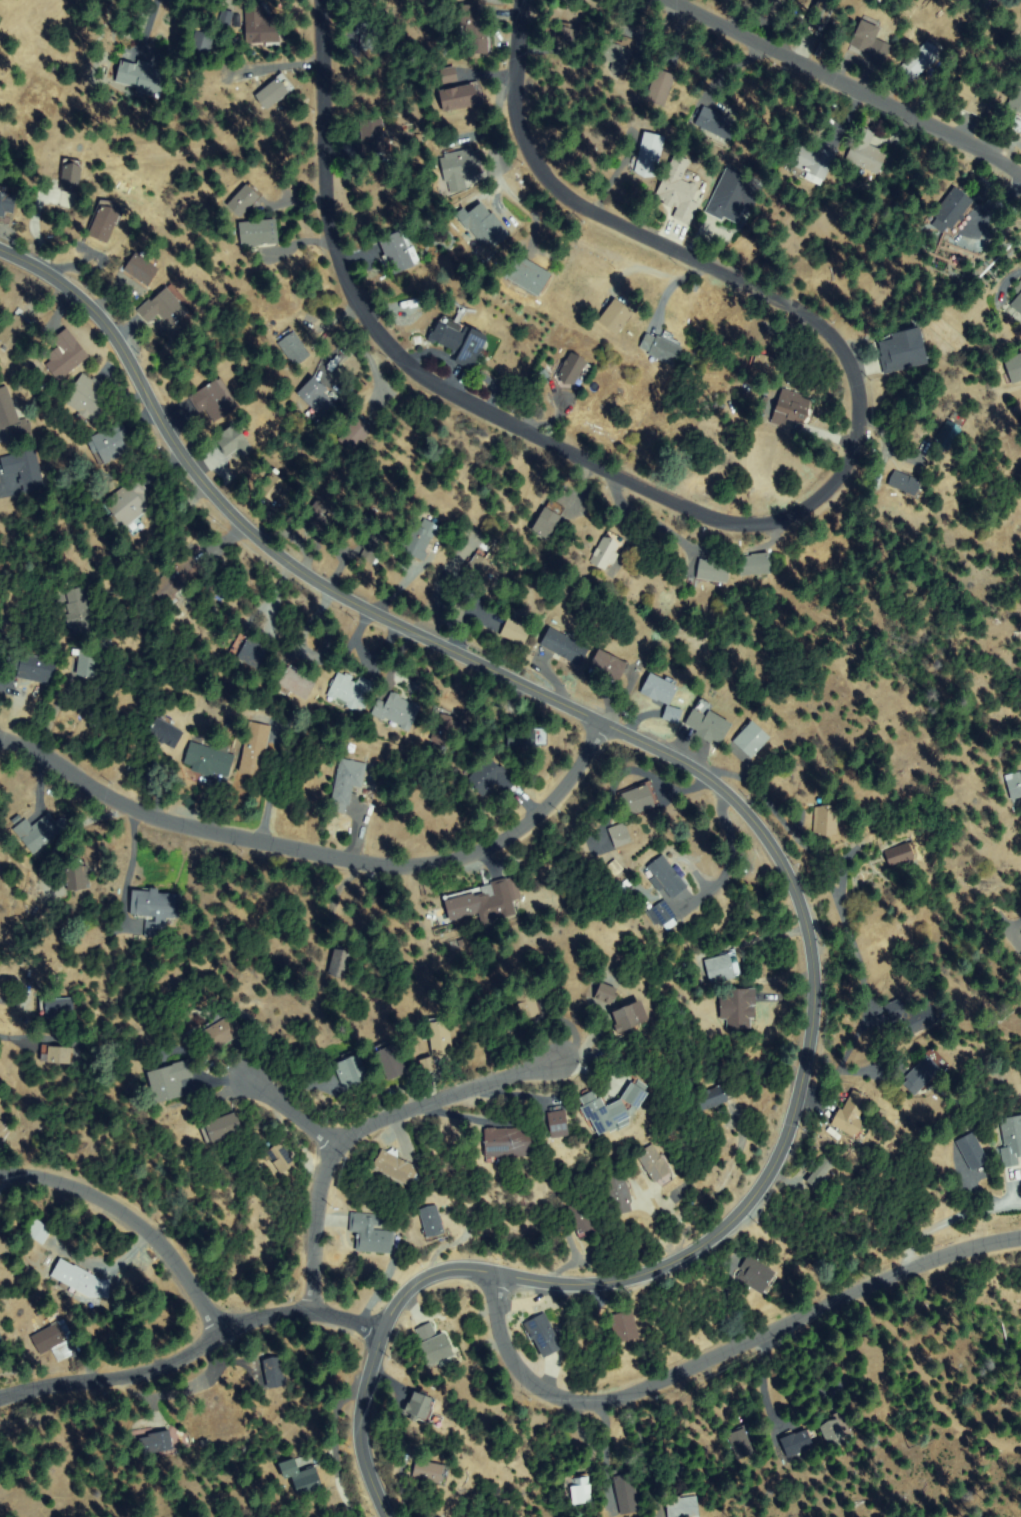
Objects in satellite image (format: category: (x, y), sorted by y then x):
building: (773, 7)
building: (819, 19)
building: (225, 21)
building: (260, 27)
building: (475, 30)
building: (372, 34)
building: (565, 36)
building: (870, 41)
building: (202, 44)
building: (616, 55)
building: (918, 63)
building: (448, 76)
building: (142, 78)
road: (841, 84)
building: (659, 87)
building: (276, 92)
building: (971, 97)
building: (459, 98)
building: (1016, 100)
building: (716, 122)
building: (373, 136)
building: (866, 152)
building: (650, 154)
building: (813, 160)
building: (460, 168)
building: (70, 180)
building: (679, 190)
building: (735, 197)
building: (245, 200)
building: (5, 201)
building: (953, 208)
building: (105, 221)
building: (484, 225)
building: (258, 234)
building: (398, 252)
building: (143, 269)
building: (530, 276)
building: (1018, 289)
building: (1018, 305)
building: (167, 306)
building: (616, 317)
building: (15, 332)
building: (459, 340)
building: (662, 347)
building: (295, 350)
building: (903, 350)
building: (65, 355)
building: (769, 364)
building: (1015, 367)
building: (573, 371)
building: (88, 399)
building: (214, 400)
building: (318, 400)
building: (790, 408)
building: (6, 410)
building: (24, 432)
building: (355, 435)
building: (948, 435)
building: (110, 443)
building: (232, 443)
building: (25, 469)
building: (908, 484)
building: (276, 489)
building: (128, 505)
building: (318, 519)
building: (549, 520)
building: (292, 523)
road: (753, 523)
building: (421, 538)
building: (374, 546)
building: (607, 550)
building: (754, 565)
building: (713, 572)
building: (479, 575)
building: (178, 579)
building: (79, 611)
building: (516, 632)
building: (105, 645)
building: (565, 648)
building: (249, 651)
building: (88, 664)
building: (33, 667)
building: (608, 667)
building: (297, 683)
building: (659, 689)
building: (351, 691)
building: (397, 711)
building: (672, 716)
building: (707, 726)
building: (442, 728)
building: (166, 733)
building: (521, 740)
building: (751, 740)
building: (255, 749)
building: (211, 760)
building: (490, 777)
building: (347, 783)
building: (1015, 786)
building: (639, 800)
building: (826, 821)
building: (42, 831)
building: (620, 835)
road: (769, 841)
road: (322, 854)
building: (901, 854)
building: (76, 876)
building: (666, 879)
building: (485, 902)
building: (157, 909)
building: (664, 915)
building: (341, 962)
building: (723, 968)
building: (605, 993)
building: (525, 1002)
building: (57, 1008)
building: (738, 1009)
building: (918, 1015)
building: (629, 1017)
building: (184, 1019)
building: (221, 1029)
building: (441, 1037)
building: (57, 1055)
building: (390, 1060)
building: (428, 1065)
building: (352, 1071)
building: (925, 1071)
building: (170, 1081)
building: (715, 1097)
building: (614, 1108)
road: (293, 1111)
building: (850, 1116)
building: (559, 1123)
road: (367, 1124)
building: (221, 1127)
building: (1011, 1139)
building: (508, 1143)
building: (972, 1152)
building: (282, 1158)
building: (656, 1165)
building: (396, 1168)
building: (821, 1171)
building: (618, 1193)
road: (128, 1218)
building: (583, 1220)
building: (432, 1222)
building: (39, 1232)
building: (371, 1233)
building: (2, 1249)
building: (757, 1277)
building: (82, 1281)
building: (625, 1325)
building: (544, 1335)
building: (54, 1339)
road: (193, 1346)
building: (434, 1346)
building: (2, 1350)
road: (722, 1353)
building: (274, 1370)
building: (420, 1407)
building: (834, 1433)
building: (742, 1442)
building: (797, 1443)
building: (156, 1444)
building: (292, 1468)
building: (431, 1473)
building: (307, 1481)
building: (581, 1490)
building: (626, 1491)
building: (683, 1507)

